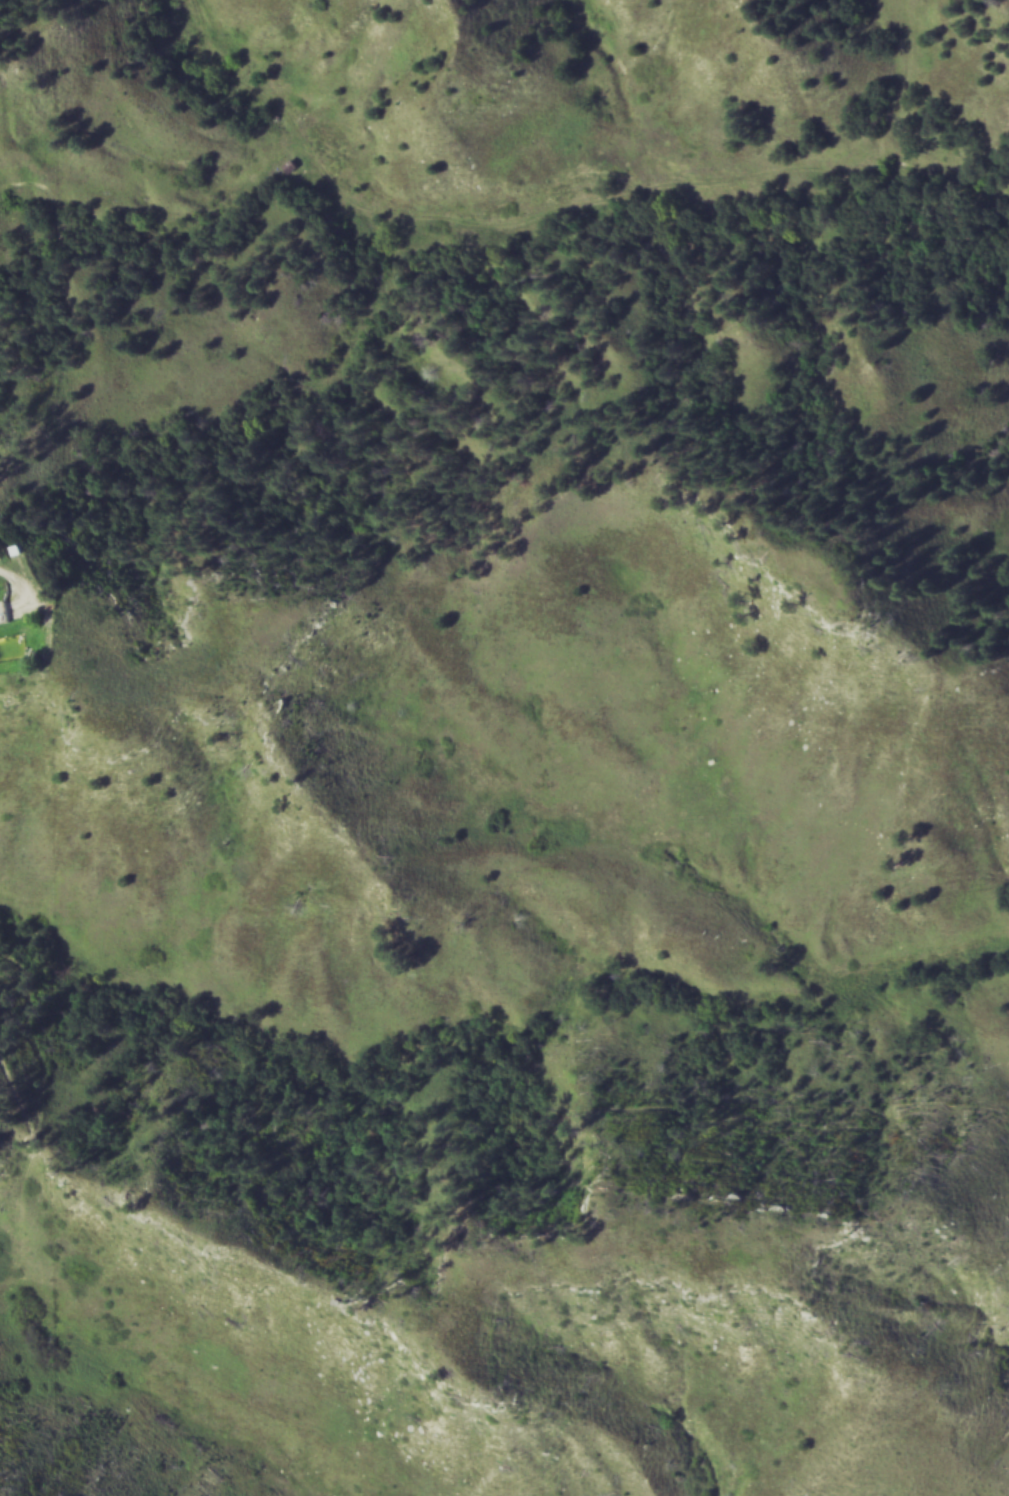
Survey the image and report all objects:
building: (292, 165)
building: (5, 610)

